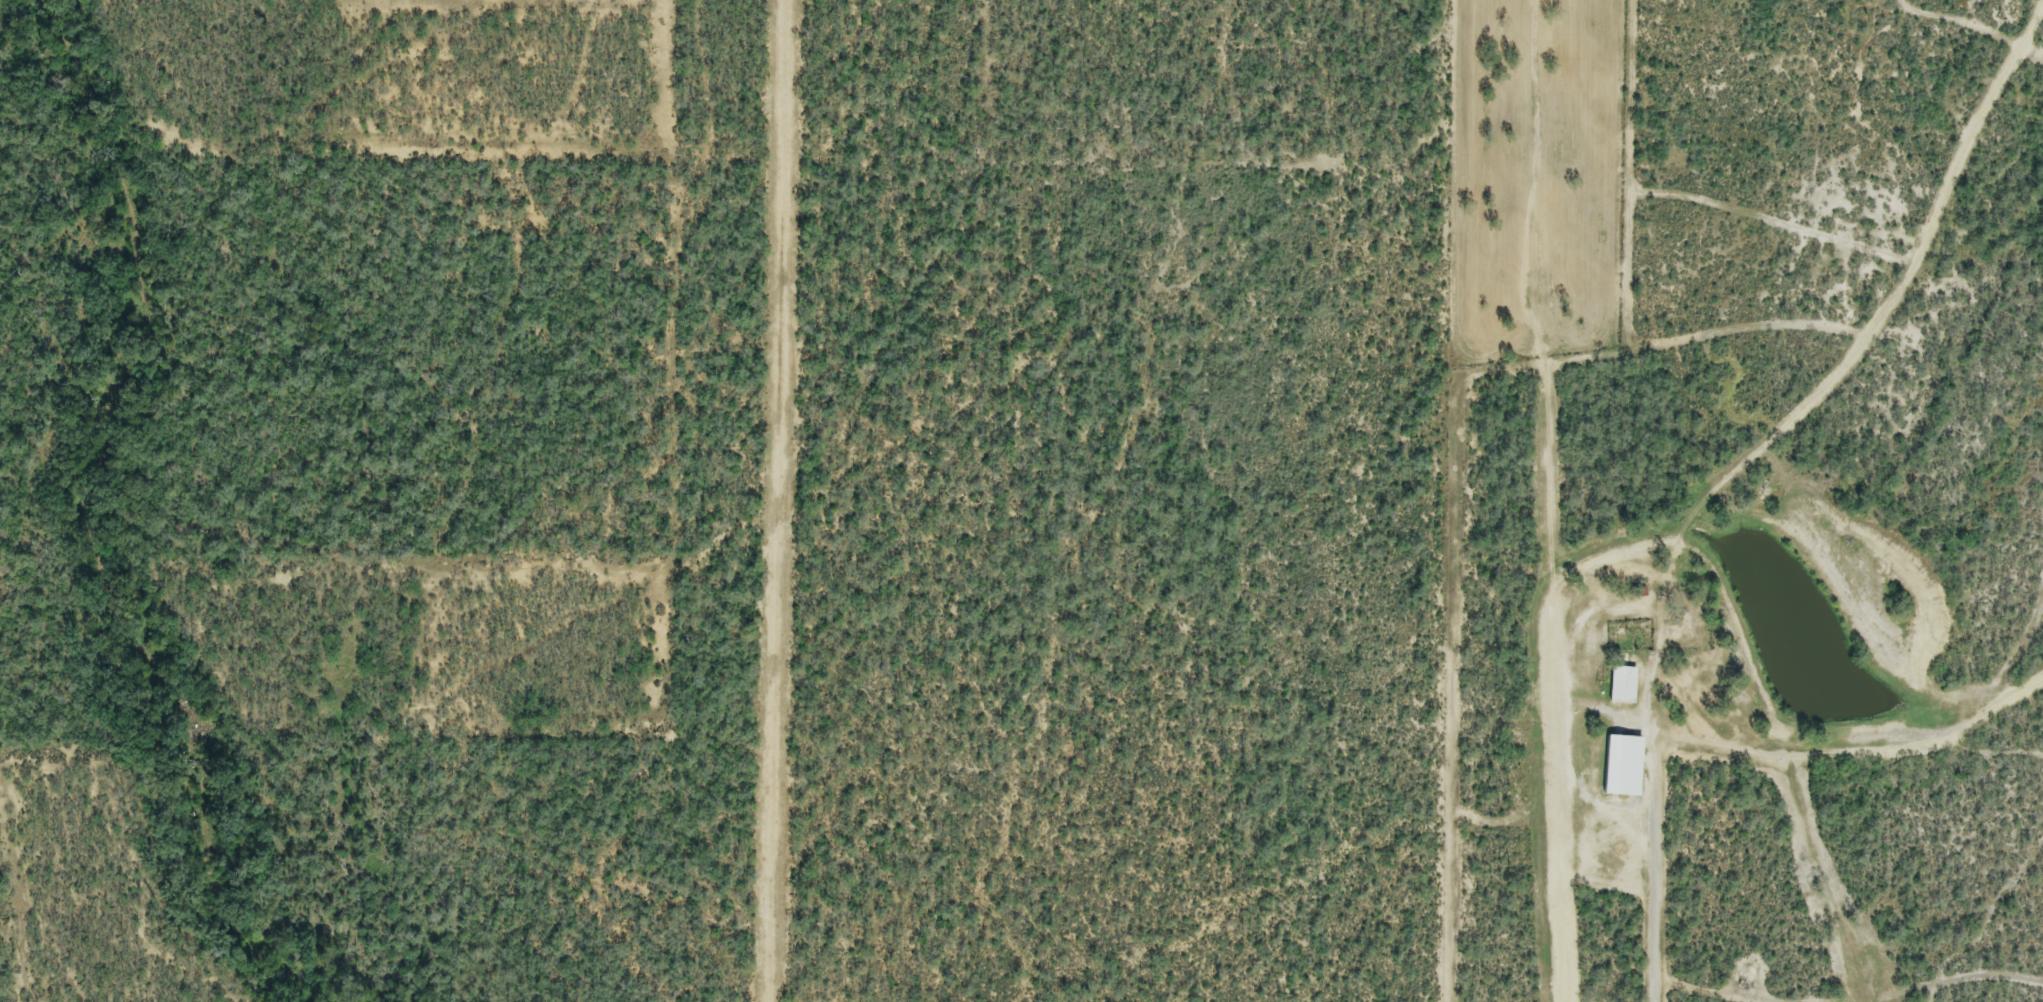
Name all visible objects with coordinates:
building: (1611, 578)
building: (1622, 686)
road: (1653, 864)

